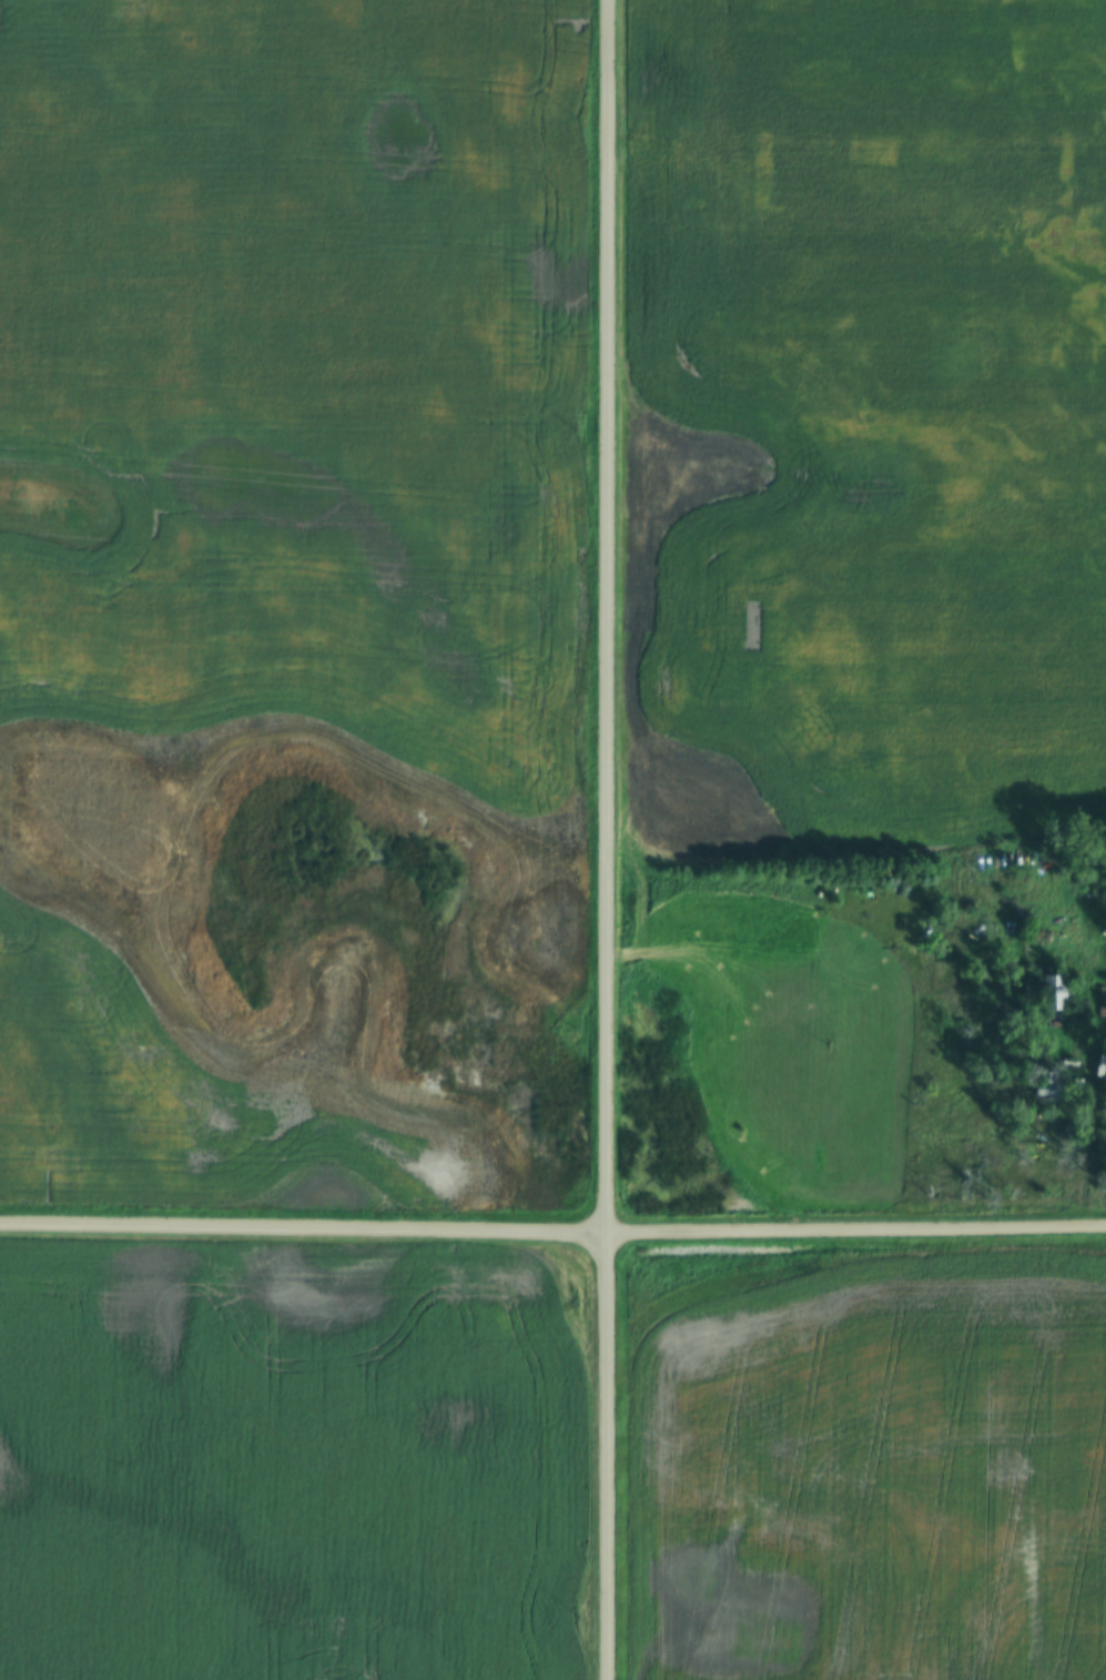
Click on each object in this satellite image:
road: (610, 840)
building: (1054, 992)
building: (1102, 1002)
road: (552, 1235)

